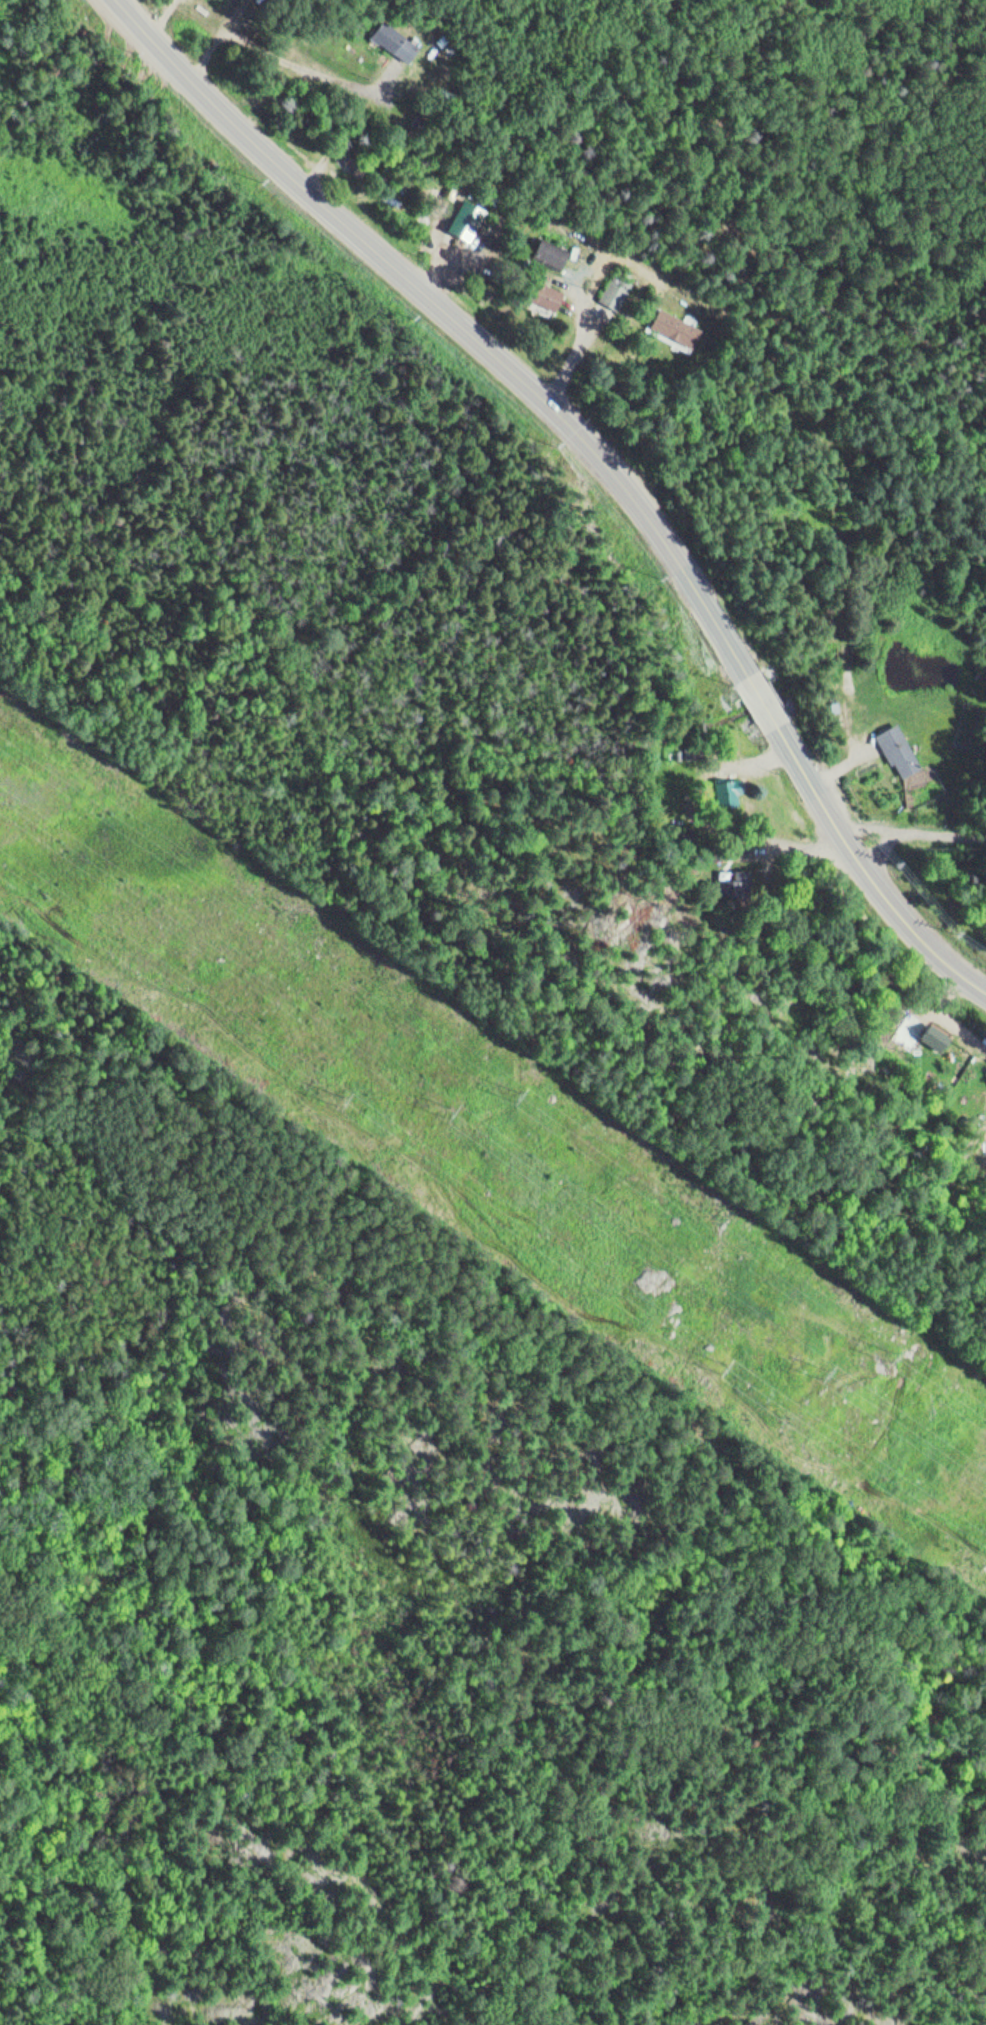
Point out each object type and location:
building: (394, 41)
building: (465, 220)
building: (546, 254)
building: (615, 292)
building: (543, 296)
road: (454, 320)
building: (675, 328)
road: (764, 698)
building: (897, 751)
road: (846, 763)
building: (731, 790)
road: (916, 830)
road: (870, 865)
building: (741, 882)
building: (939, 1034)
power tower: (521, 1095)
power tower: (334, 1101)
power tower: (451, 1111)
power tower: (894, 1358)
power tower: (718, 1368)
power tower: (829, 1373)

